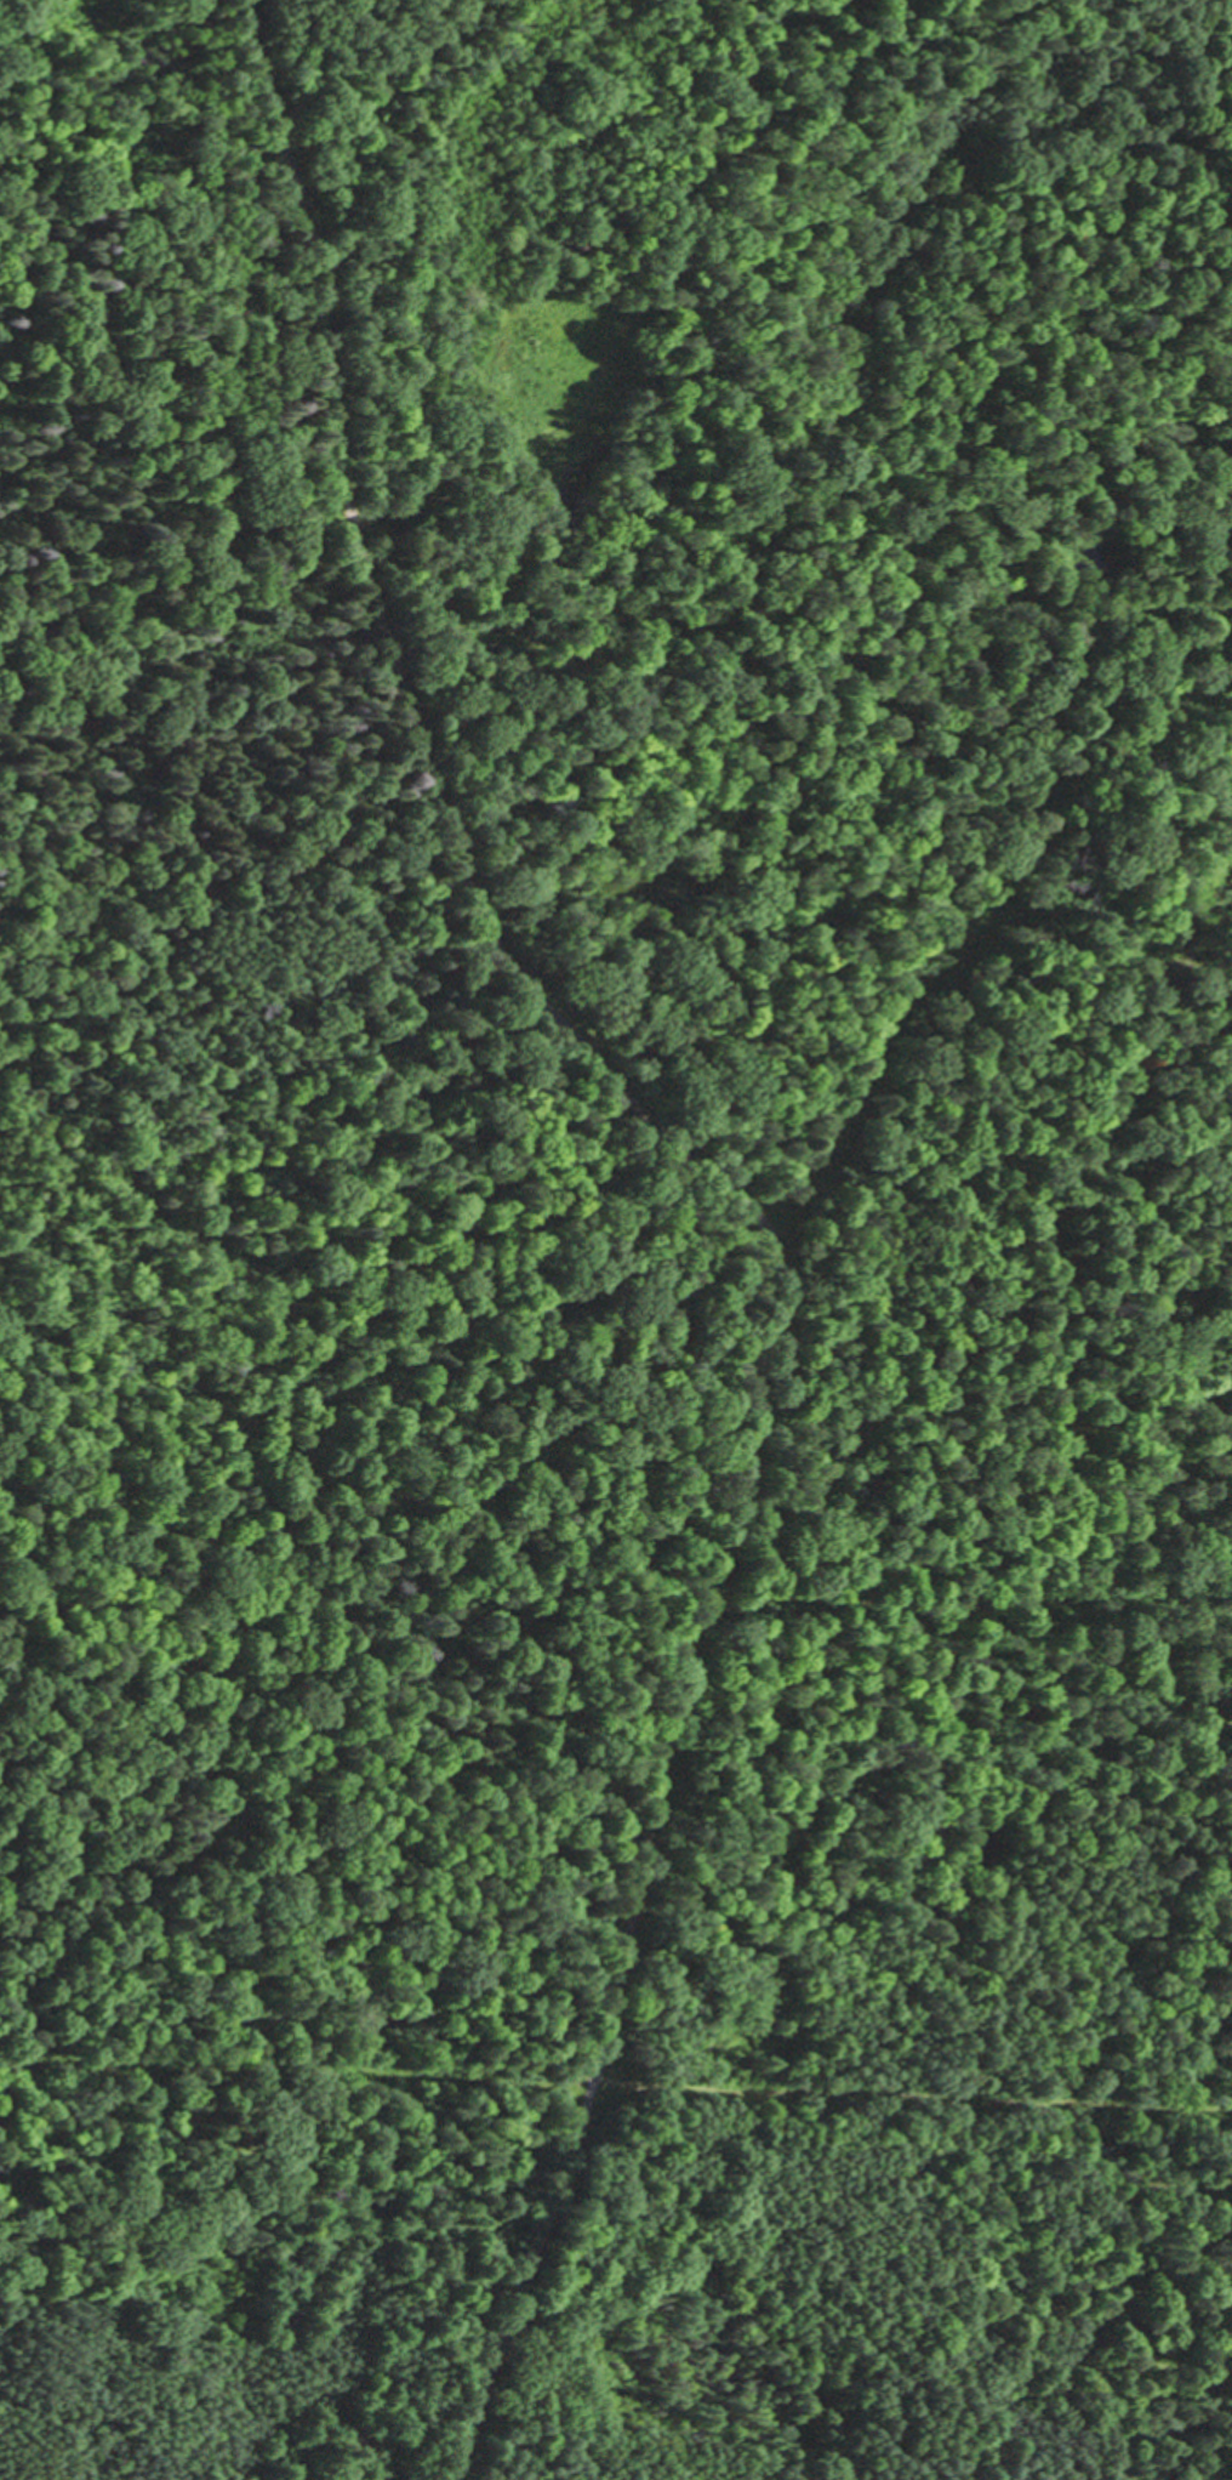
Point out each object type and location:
road: (1083, 182)
road: (400, 683)
road: (633, 688)
road: (645, 1871)
road: (615, 2078)

